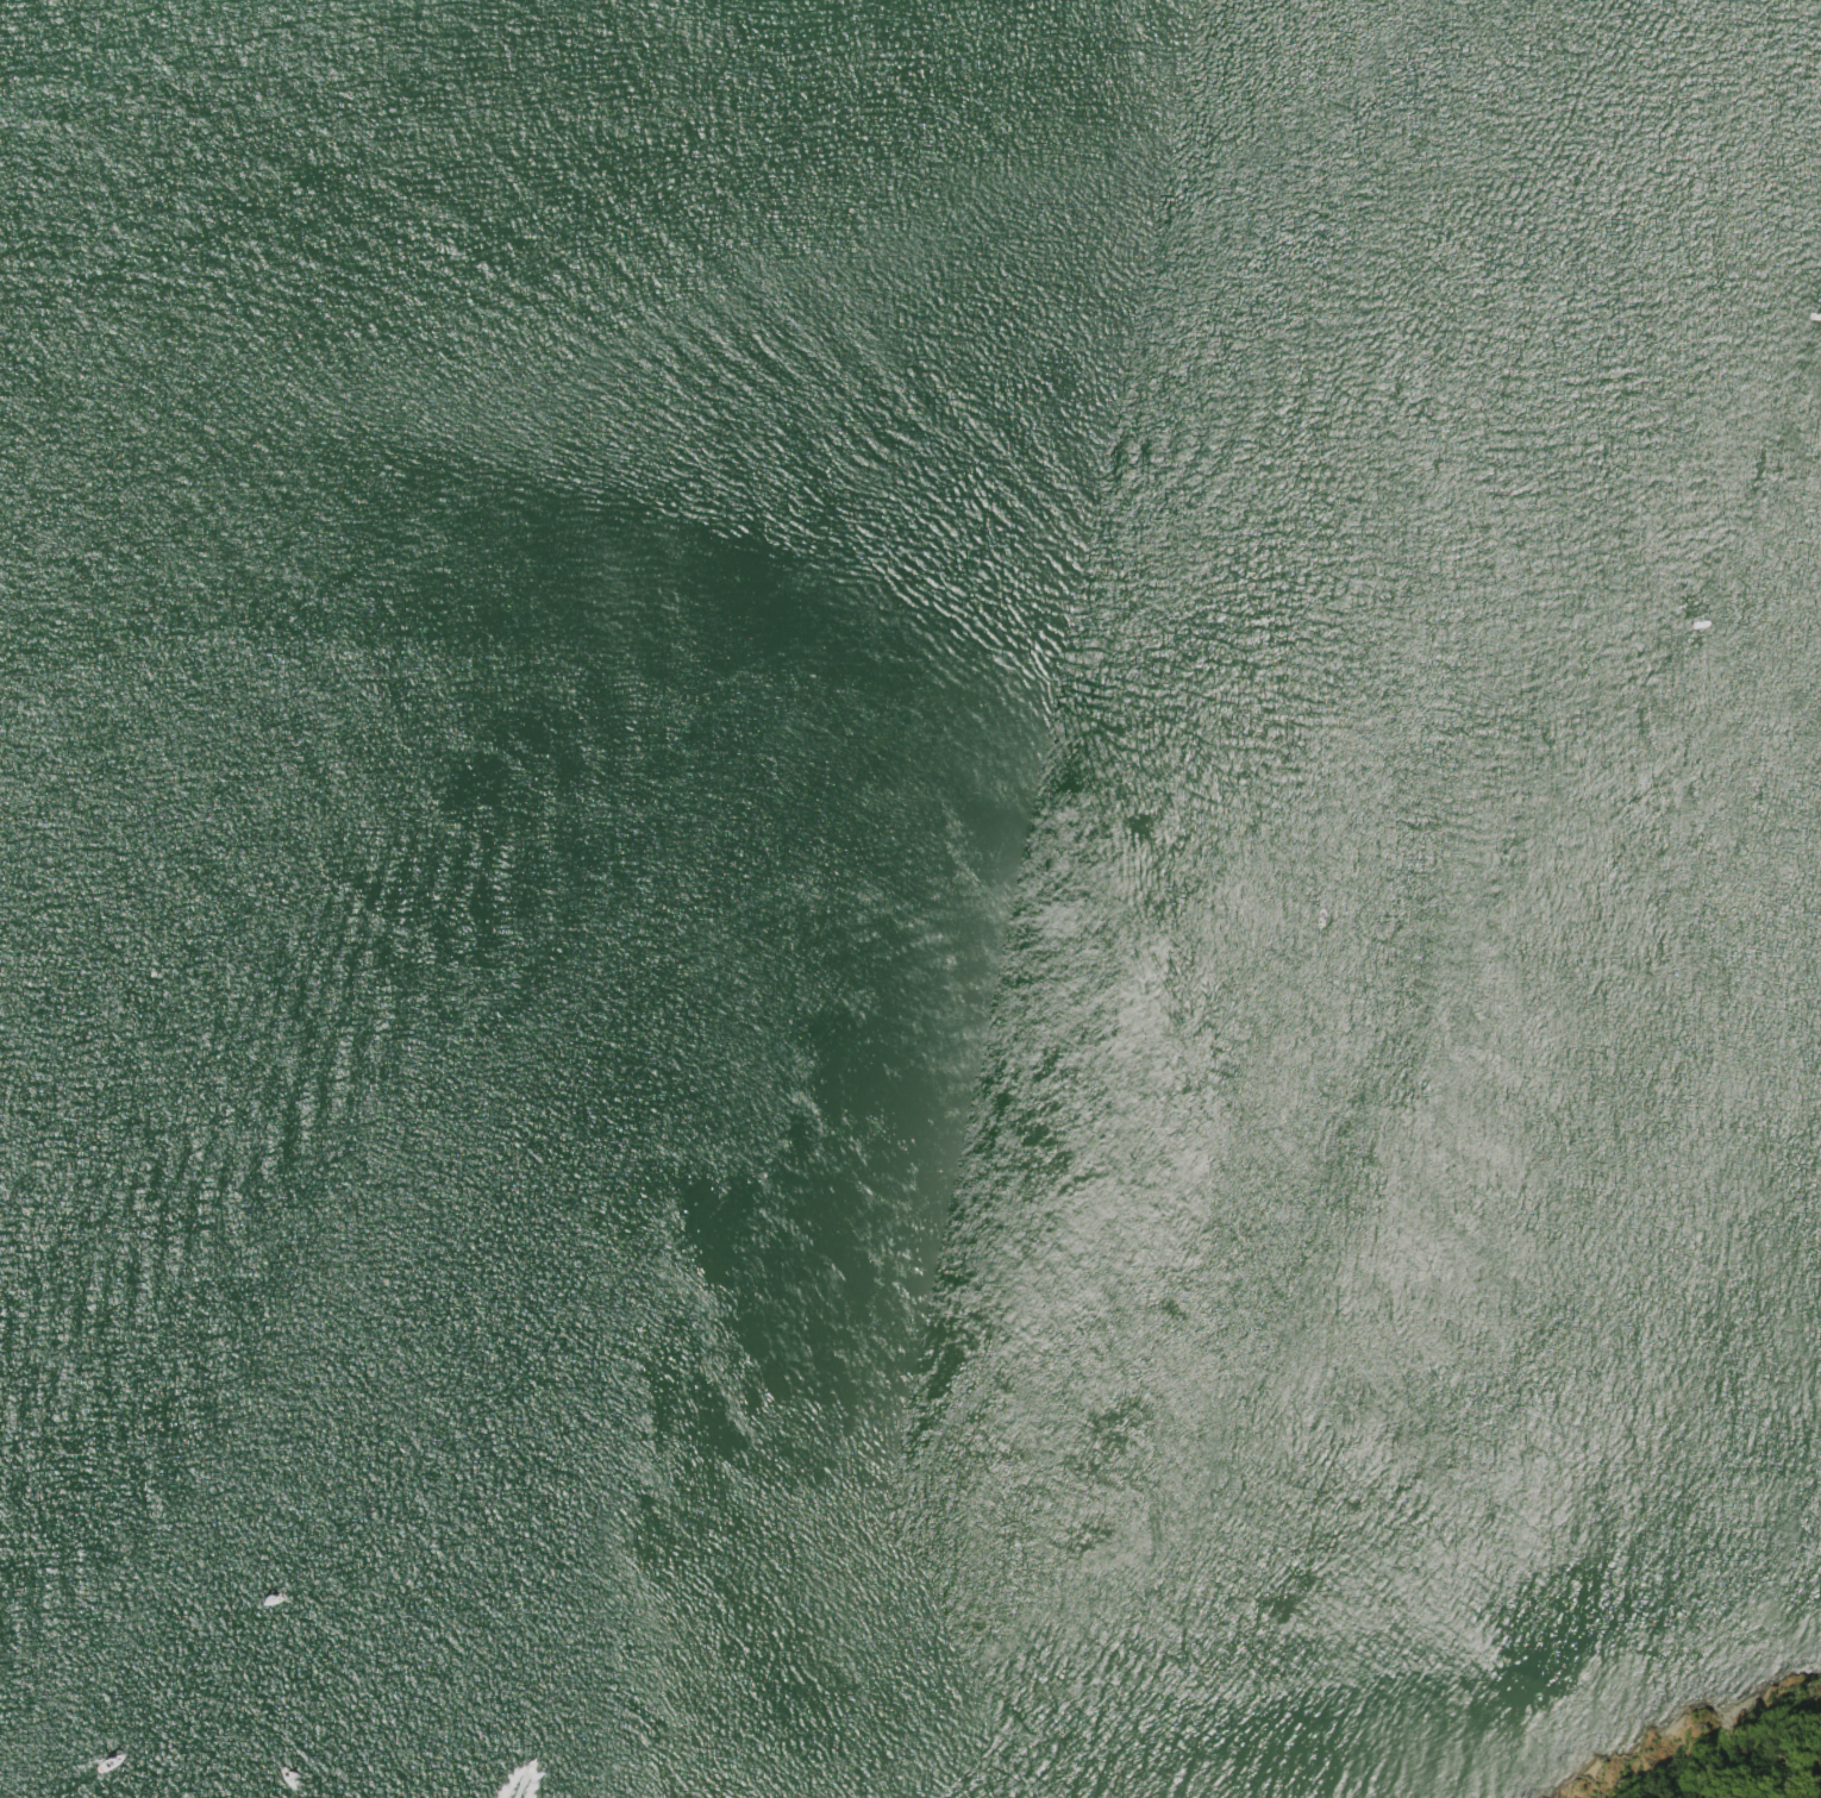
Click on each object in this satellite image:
park: (1732, 1750)

